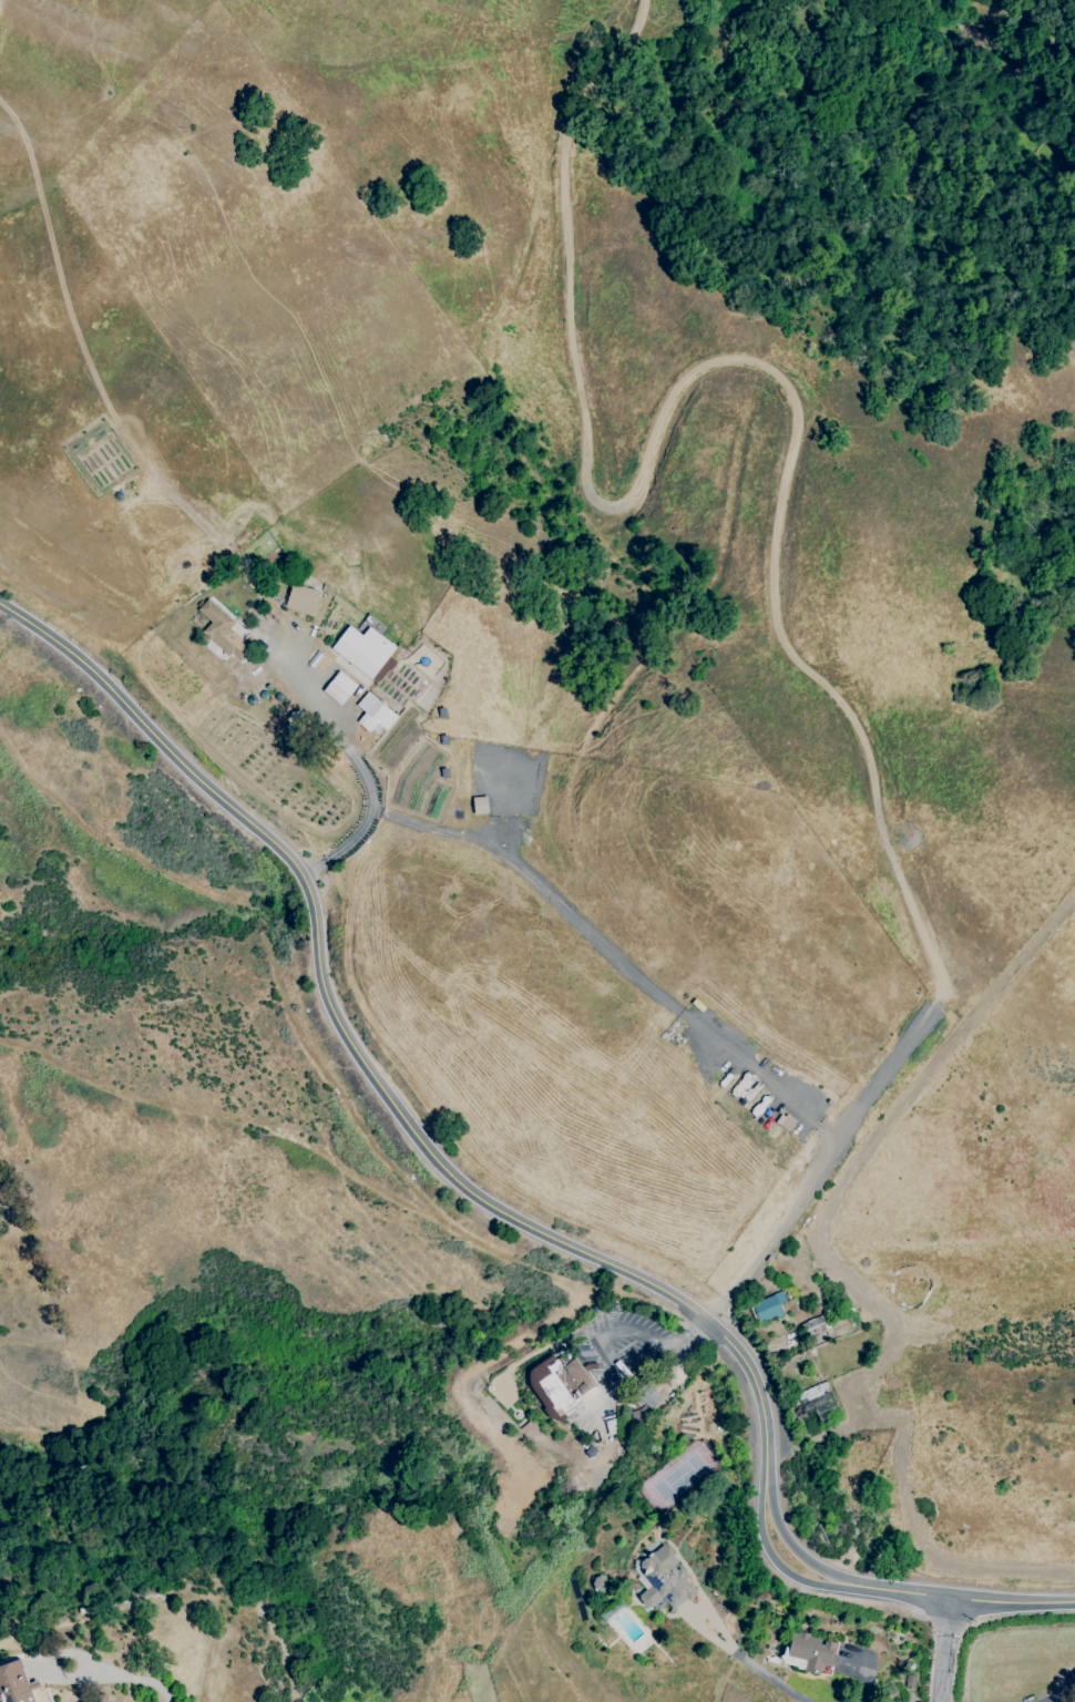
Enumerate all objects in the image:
road: (788, 394)
building: (301, 599)
building: (222, 632)
building: (362, 649)
building: (339, 688)
building: (373, 715)
road: (361, 773)
road: (490, 1203)
road: (789, 1207)
building: (768, 1308)
building: (812, 1326)
road: (628, 1331)
road: (689, 1334)
road: (631, 1363)
building: (559, 1386)
building: (648, 1396)
building: (811, 1401)
building: (662, 1580)
road: (944, 1649)
building: (811, 1651)
road: (743, 1662)
road: (136, 1678)
building: (14, 1684)

